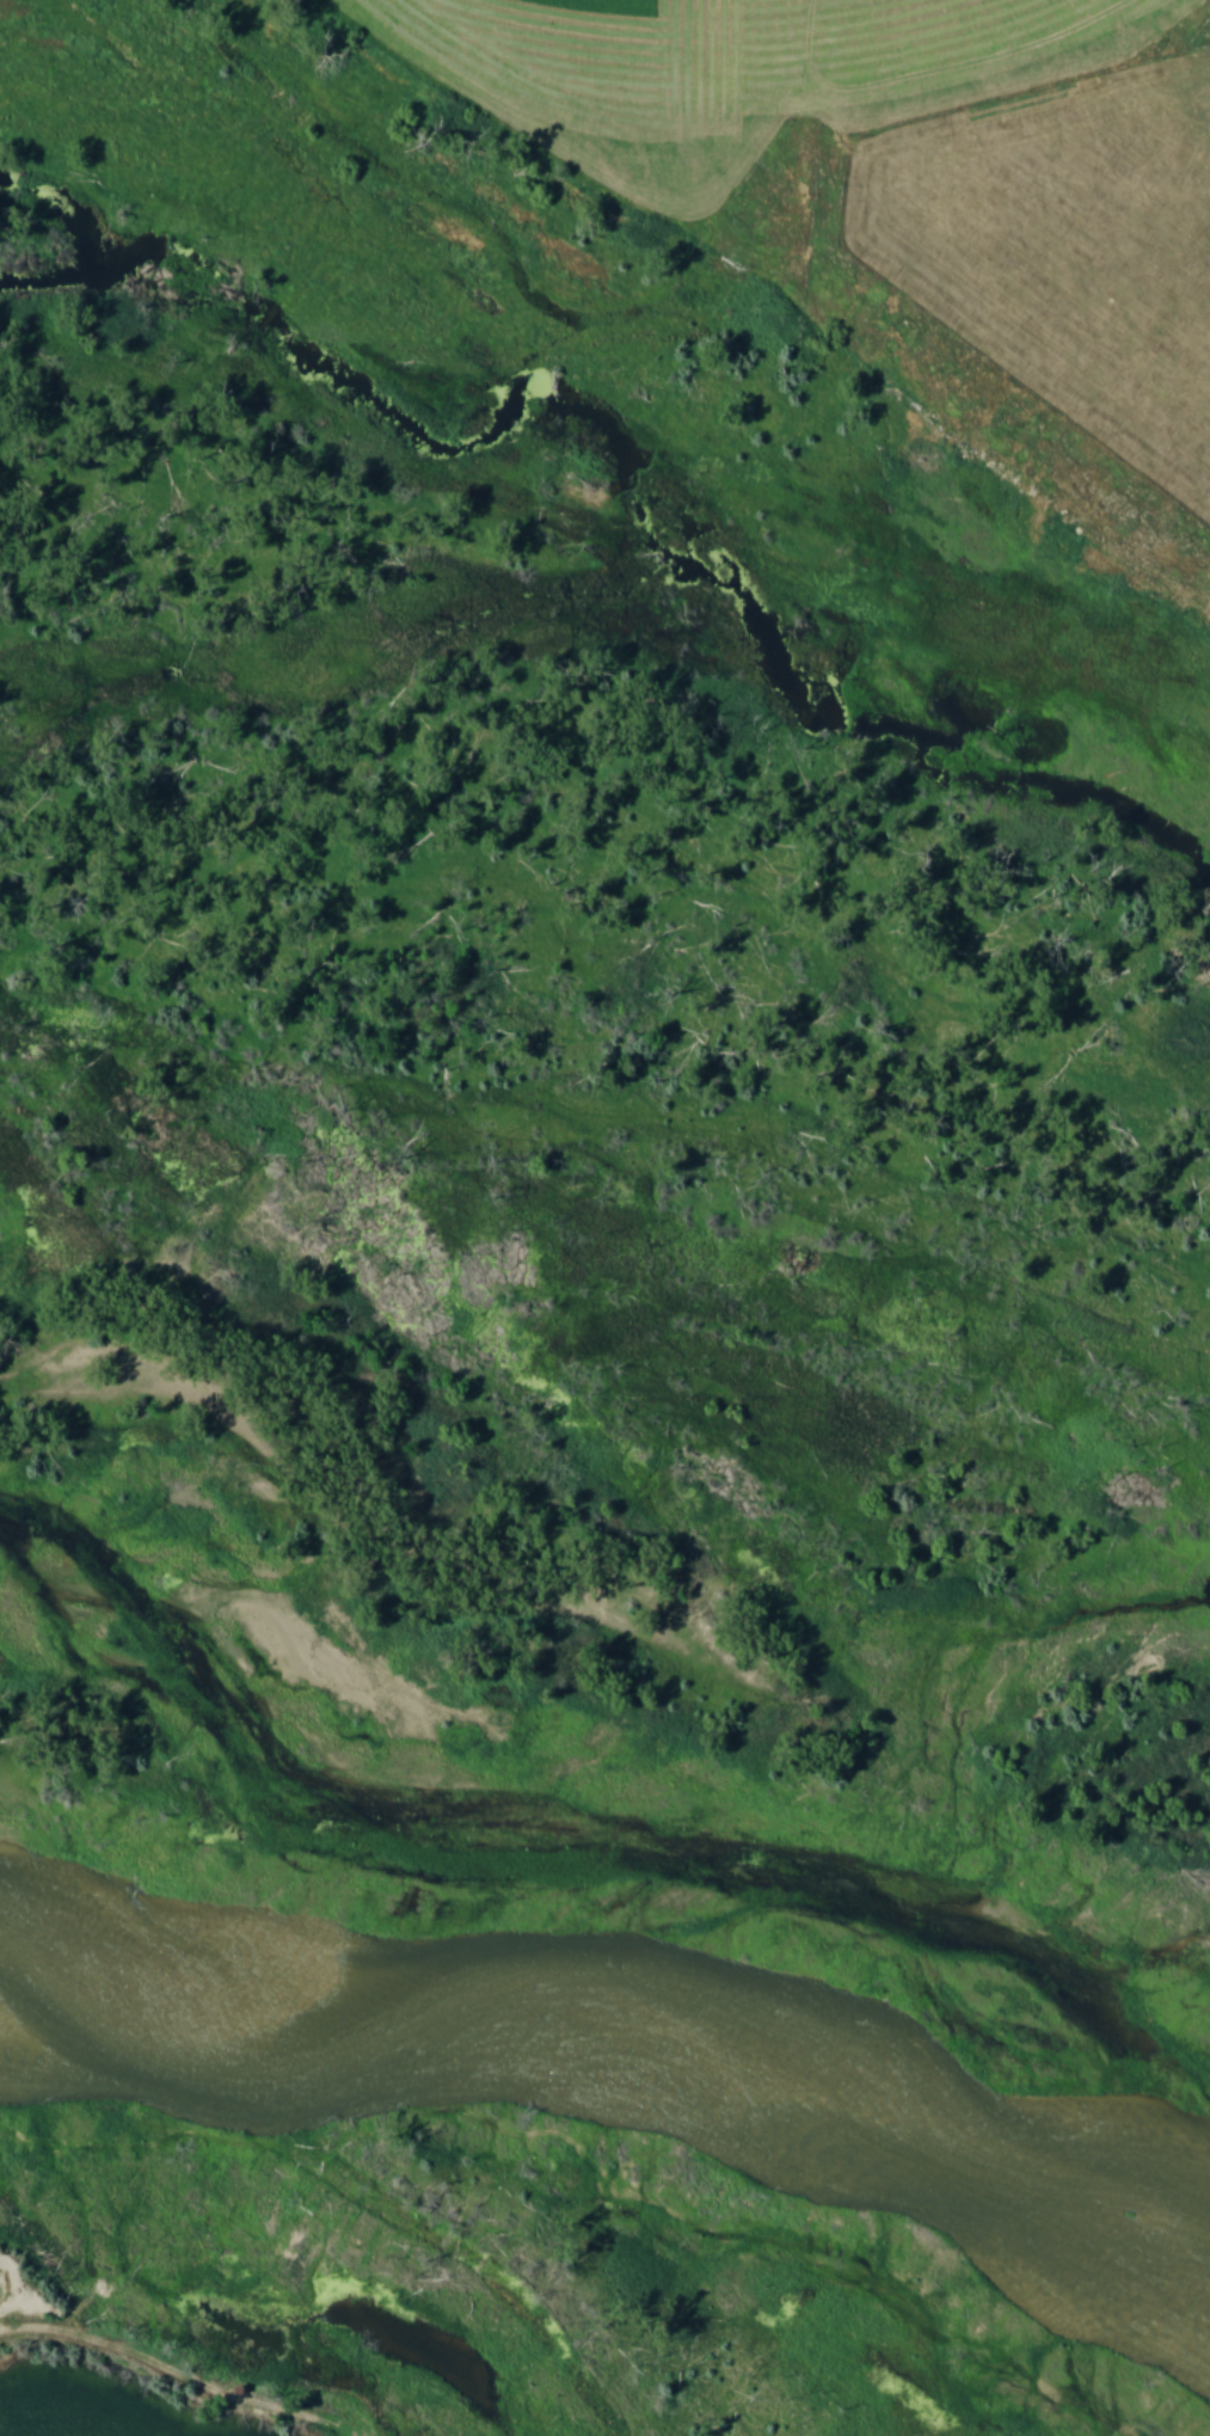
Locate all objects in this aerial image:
crop: (806, 45)
river: (629, 2044)

